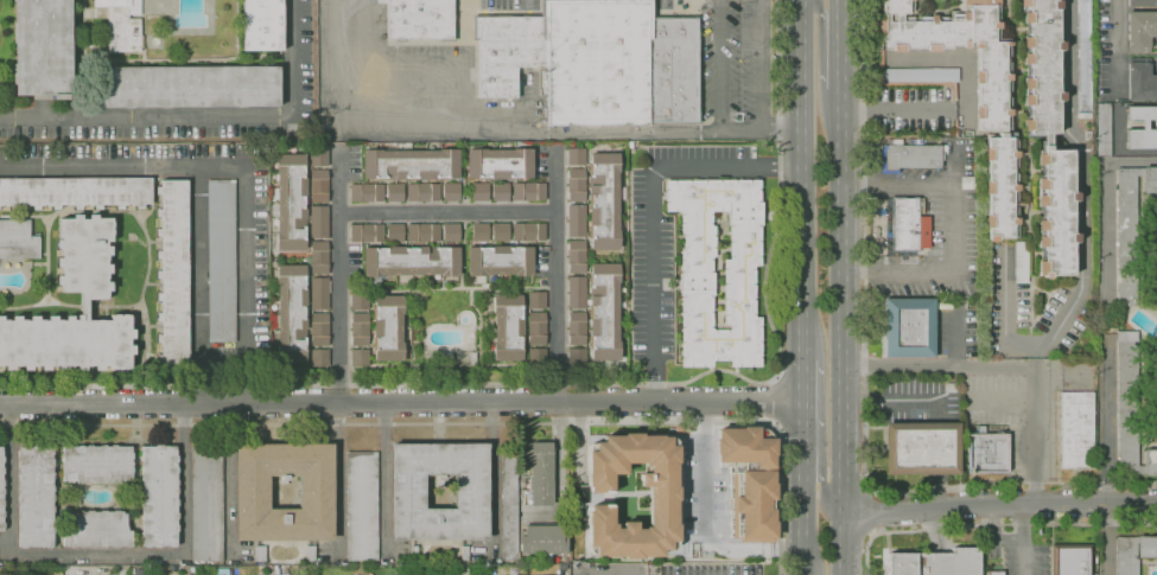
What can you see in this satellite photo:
building: (1140, 2)
road: (839, 7)
road: (825, 11)
building: (420, 19)
building: (120, 24)
building: (261, 25)
building: (1140, 31)
building: (42, 47)
road: (1110, 47)
building: (1082, 55)
road: (291, 56)
road: (354, 59)
building: (596, 62)
road: (840, 63)
road: (718, 65)
road: (761, 65)
building: (1140, 81)
building: (186, 85)
road: (968, 109)
road: (146, 119)
building: (993, 124)
building: (1142, 128)
building: (1101, 129)
road: (577, 132)
building: (1048, 136)
road: (1114, 152)
building: (576, 156)
building: (318, 158)
building: (910, 158)
building: (411, 164)
building: (498, 164)
road: (803, 177)
building: (1150, 180)
road: (896, 183)
road: (1082, 183)
building: (318, 186)
road: (196, 187)
building: (75, 192)
building: (394, 192)
building: (422, 192)
building: (451, 192)
building: (479, 192)
building: (500, 192)
building: (527, 192)
building: (365, 193)
building: (598, 199)
road: (1105, 200)
building: (290, 203)
road: (651, 205)
road: (446, 211)
building: (318, 222)
building: (576, 222)
building: (902, 226)
road: (953, 226)
building: (394, 232)
building: (422, 232)
building: (450, 232)
building: (479, 232)
building: (500, 232)
building: (528, 232)
building: (365, 234)
building: (1126, 236)
building: (18, 239)
building: (576, 256)
building: (319, 258)
building: (221, 261)
road: (244, 261)
building: (500, 261)
building: (409, 262)
road: (897, 270)
building: (173, 275)
road: (555, 276)
building: (695, 276)
road: (338, 277)
building: (318, 293)
building: (94, 294)
building: (535, 300)
building: (595, 312)
building: (291, 313)
building: (379, 325)
building: (507, 326)
building: (535, 328)
building: (908, 328)
building: (319, 330)
road: (956, 338)
road: (841, 341)
building: (536, 357)
building: (319, 358)
building: (358, 358)
building: (577, 358)
building: (466, 359)
road: (937, 365)
road: (581, 384)
road: (866, 389)
road: (776, 402)
road: (401, 403)
building: (1126, 403)
road: (803, 410)
road: (464, 423)
road: (1106, 423)
building: (679, 429)
road: (1034, 429)
building: (1076, 430)
building: (744, 447)
building: (921, 449)
building: (984, 453)
building: (1150, 462)
building: (96, 464)
road: (9, 472)
building: (541, 473)
road: (559, 473)
road: (826, 485)
building: (1, 490)
building: (250, 492)
building: (407, 494)
building: (34, 496)
building: (159, 496)
building: (662, 498)
building: (509, 501)
building: (206, 503)
building: (756, 503)
road: (999, 504)
building: (362, 507)
road: (870, 516)
road: (703, 519)
road: (803, 519)
road: (993, 525)
building: (96, 530)
road: (1007, 539)
building: (542, 541)
building: (310, 552)
building: (1133, 552)
road: (159, 554)
building: (260, 554)
building: (413, 554)
building: (464, 554)
road: (1022, 557)
building: (1070, 560)
building: (935, 563)
building: (419, 570)
building: (132, 571)
building: (140, 571)
building: (222, 571)
building: (30, 573)
building: (994, 573)
road: (603, 574)

